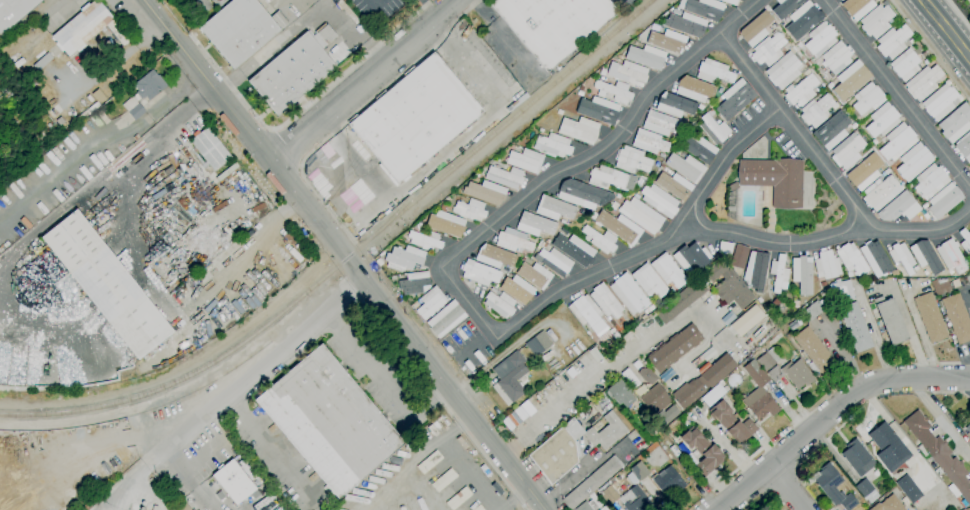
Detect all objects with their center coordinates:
building: (839, 0)
building: (841, 0)
building: (969, 0)
road: (373, 1)
building: (217, 2)
building: (730, 2)
building: (200, 7)
building: (784, 7)
building: (856, 7)
building: (704, 8)
building: (14, 12)
building: (675, 12)
road: (900, 12)
road: (959, 13)
building: (895, 19)
building: (278, 20)
building: (803, 20)
building: (875, 21)
building: (685, 24)
building: (552, 25)
building: (81, 27)
building: (654, 28)
building: (755, 29)
building: (238, 30)
road: (945, 31)
road: (357, 33)
building: (120, 38)
building: (819, 39)
building: (667, 41)
building: (892, 41)
building: (911, 41)
building: (799, 45)
road: (271, 49)
building: (767, 50)
building: (923, 54)
building: (646, 56)
building: (619, 57)
building: (836, 57)
road: (112, 60)
building: (42, 62)
road: (940, 63)
building: (904, 65)
building: (294, 71)
building: (783, 71)
building: (602, 72)
building: (713, 72)
building: (627, 73)
building: (27, 80)
building: (850, 80)
road: (368, 81)
building: (922, 82)
building: (149, 86)
building: (694, 89)
building: (613, 91)
building: (800, 91)
road: (896, 93)
building: (867, 99)
building: (734, 100)
building: (940, 101)
building: (674, 105)
building: (699, 107)
building: (133, 108)
building: (598, 110)
building: (816, 111)
building: (559, 112)
building: (710, 113)
road: (351, 117)
building: (79, 118)
building: (414, 118)
building: (881, 120)
building: (59, 121)
road: (288, 121)
building: (663, 121)
building: (955, 123)
building: (49, 126)
road: (793, 126)
building: (853, 126)
building: (689, 127)
building: (713, 129)
building: (540, 130)
building: (579, 130)
building: (831, 131)
road: (162, 140)
building: (648, 141)
building: (874, 142)
building: (897, 142)
road: (99, 143)
building: (552, 145)
road: (287, 146)
building: (696, 147)
building: (964, 147)
building: (209, 149)
building: (677, 151)
building: (846, 151)
building: (661, 155)
building: (496, 160)
building: (525, 160)
building: (631, 161)
building: (913, 162)
building: (656, 164)
building: (969, 164)
building: (661, 167)
building: (685, 167)
building: (886, 171)
building: (864, 172)
building: (504, 177)
building: (611, 178)
building: (774, 180)
building: (930, 181)
building: (638, 182)
building: (673, 185)
building: (909, 185)
building: (732, 187)
building: (485, 192)
building: (880, 192)
building: (580, 194)
building: (636, 196)
building: (659, 200)
building: (943, 200)
building: (613, 206)
building: (924, 206)
building: (442, 208)
building: (553, 208)
building: (898, 208)
railway: (398, 210)
building: (470, 210)
building: (640, 215)
building: (925, 216)
building: (969, 222)
building: (445, 224)
building: (534, 225)
building: (617, 227)
road: (833, 236)
building: (599, 239)
building: (513, 240)
building: (424, 241)
building: (965, 241)
building: (543, 245)
building: (574, 249)
road: (344, 254)
railway: (349, 255)
building: (494, 256)
building: (739, 257)
building: (902, 257)
building: (925, 257)
building: (951, 257)
building: (404, 258)
building: (691, 258)
building: (875, 258)
building: (851, 259)
building: (528, 261)
building: (553, 261)
building: (826, 265)
building: (915, 268)
building: (715, 270)
building: (755, 270)
building: (667, 271)
building: (479, 273)
building: (925, 273)
building: (779, 274)
building: (802, 274)
building: (533, 275)
building: (648, 281)
building: (414, 283)
building: (822, 283)
building: (955, 283)
building: (106, 284)
building: (969, 285)
building: (939, 286)
road: (456, 287)
building: (493, 289)
building: (516, 289)
building: (671, 290)
building: (732, 290)
building: (842, 291)
building: (628, 294)
building: (878, 300)
road: (183, 301)
building: (605, 301)
building: (655, 302)
building: (679, 302)
building: (430, 303)
building: (775, 303)
building: (499, 304)
building: (795, 304)
building: (415, 305)
building: (772, 308)
building: (815, 308)
building: (648, 310)
building: (584, 311)
building: (607, 317)
building: (929, 317)
building: (956, 318)
building: (445, 319)
building: (745, 320)
building: (890, 322)
building: (855, 327)
road: (909, 334)
building: (615, 336)
building: (538, 344)
building: (674, 348)
building: (814, 351)
building: (768, 359)
road: (618, 361)
building: (696, 361)
building: (717, 370)
building: (775, 374)
building: (797, 374)
building: (646, 376)
building: (509, 378)
building: (629, 378)
road: (385, 379)
building: (689, 392)
building: (758, 393)
road: (228, 394)
building: (619, 394)
building: (711, 395)
building: (654, 399)
road: (440, 400)
road: (829, 412)
building: (667, 416)
road: (940, 417)
building: (328, 421)
building: (731, 423)
building: (441, 424)
building: (968, 428)
building: (432, 430)
building: (606, 432)
building: (645, 436)
road: (268, 440)
building: (461, 443)
road: (511, 447)
building: (888, 448)
building: (683, 449)
building: (701, 450)
building: (557, 451)
building: (939, 456)
road: (674, 458)
building: (857, 458)
building: (429, 462)
road: (187, 466)
building: (851, 477)
building: (659, 478)
building: (443, 480)
building: (233, 482)
building: (591, 482)
building: (831, 487)
road: (785, 488)
building: (496, 489)
building: (908, 489)
road: (197, 491)
building: (866, 491)
building: (625, 497)
building: (458, 498)
building: (903, 500)
building: (906, 503)
building: (589, 504)
building: (888, 504)
building: (182, 506)
building: (478, 508)
building: (603, 508)

